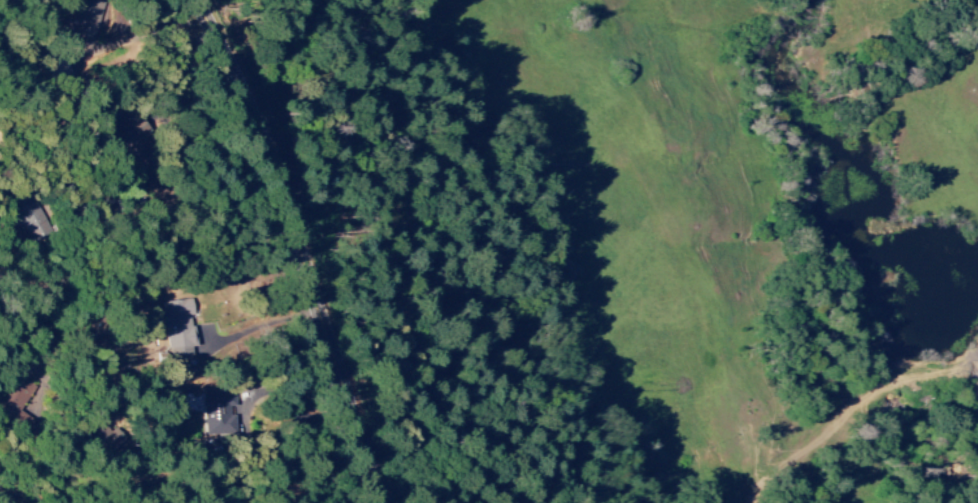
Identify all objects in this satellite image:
building: (88, 19)
building: (143, 139)
building: (30, 218)
road: (303, 246)
building: (178, 329)
building: (15, 396)
building: (216, 411)
building: (101, 437)
road: (6, 497)

